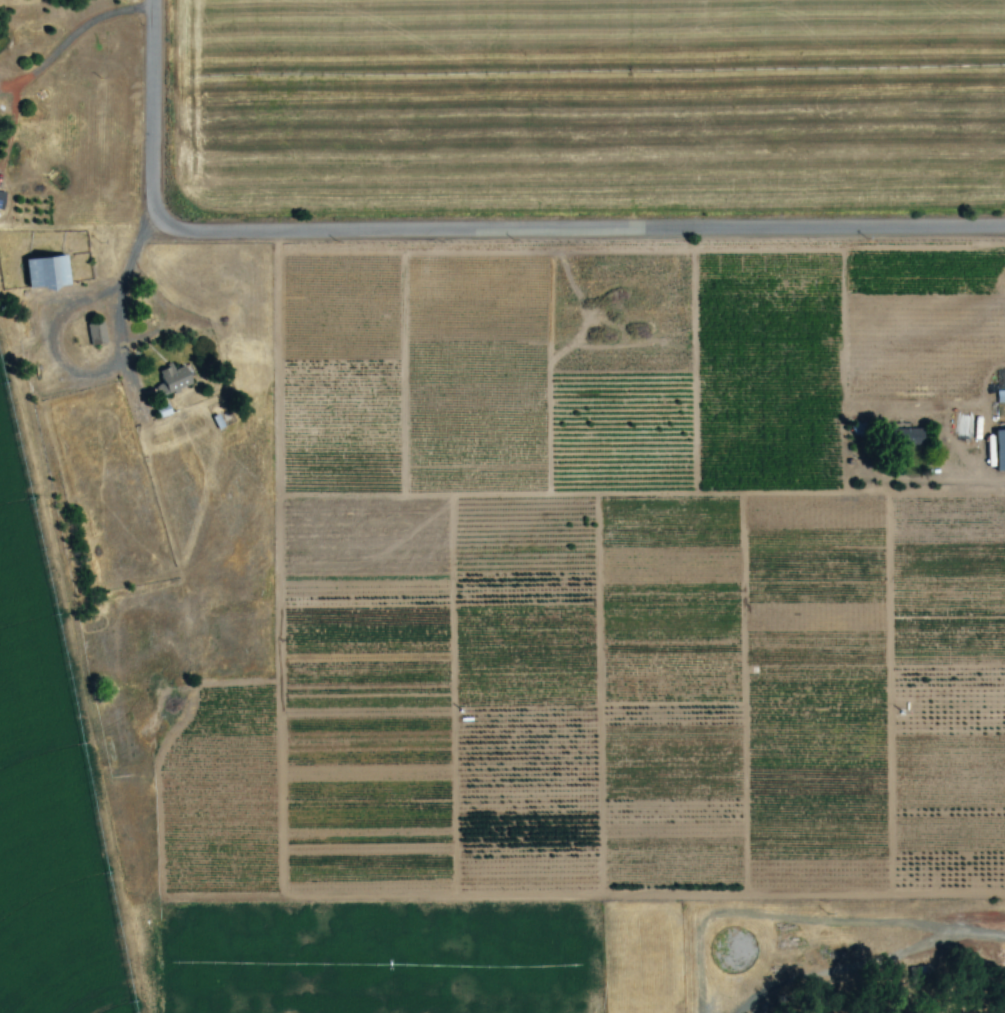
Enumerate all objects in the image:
road: (465, 236)
building: (51, 272)
building: (99, 334)
building: (176, 380)
building: (1002, 450)

